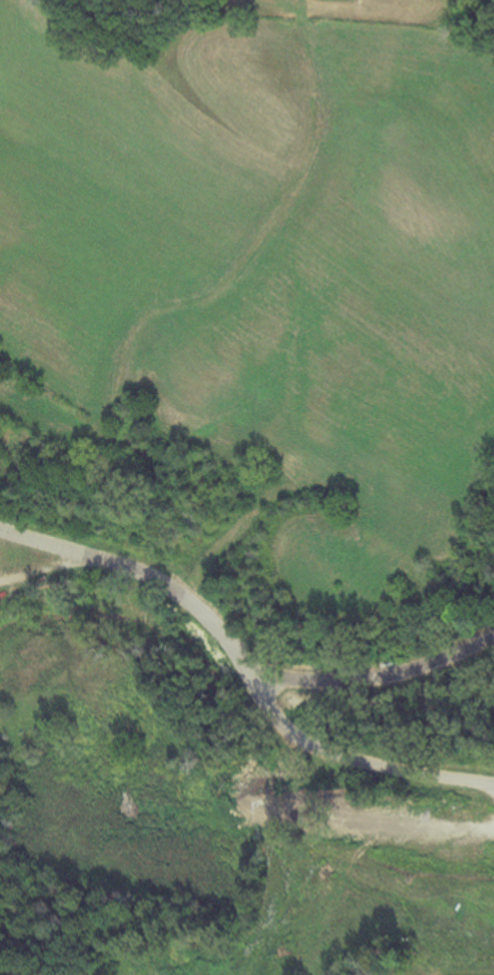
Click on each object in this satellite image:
ski resort: (245, 492)
road: (39, 567)
road: (146, 573)
road: (377, 680)
road: (357, 757)

